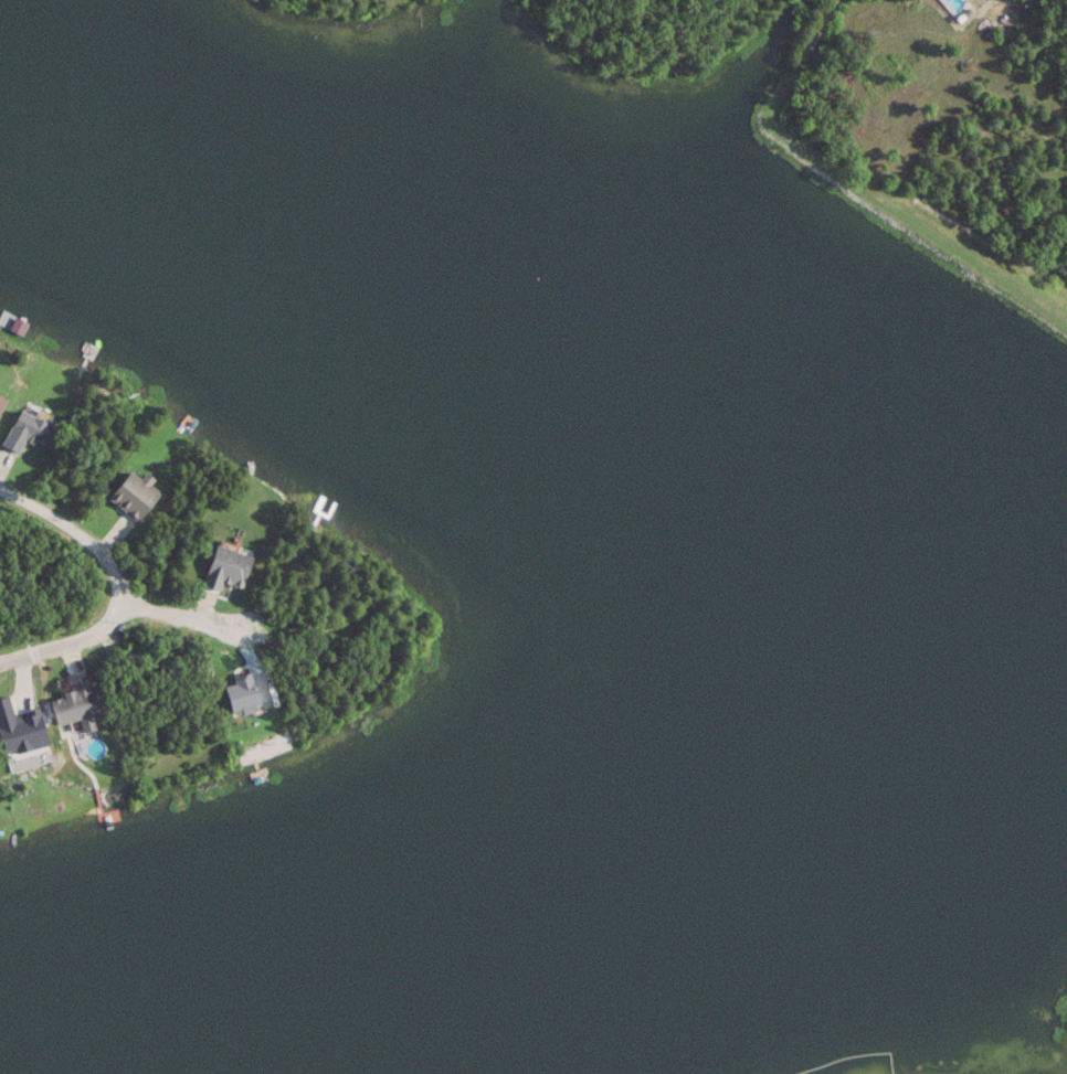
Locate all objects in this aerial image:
road: (983, 6)
road: (907, 161)
dam: (965, 248)
building: (1, 401)
building: (28, 429)
building: (135, 495)
road: (83, 536)
building: (230, 565)
road: (178, 616)
road: (55, 647)
building: (77, 704)
dam: (1065, 1046)

